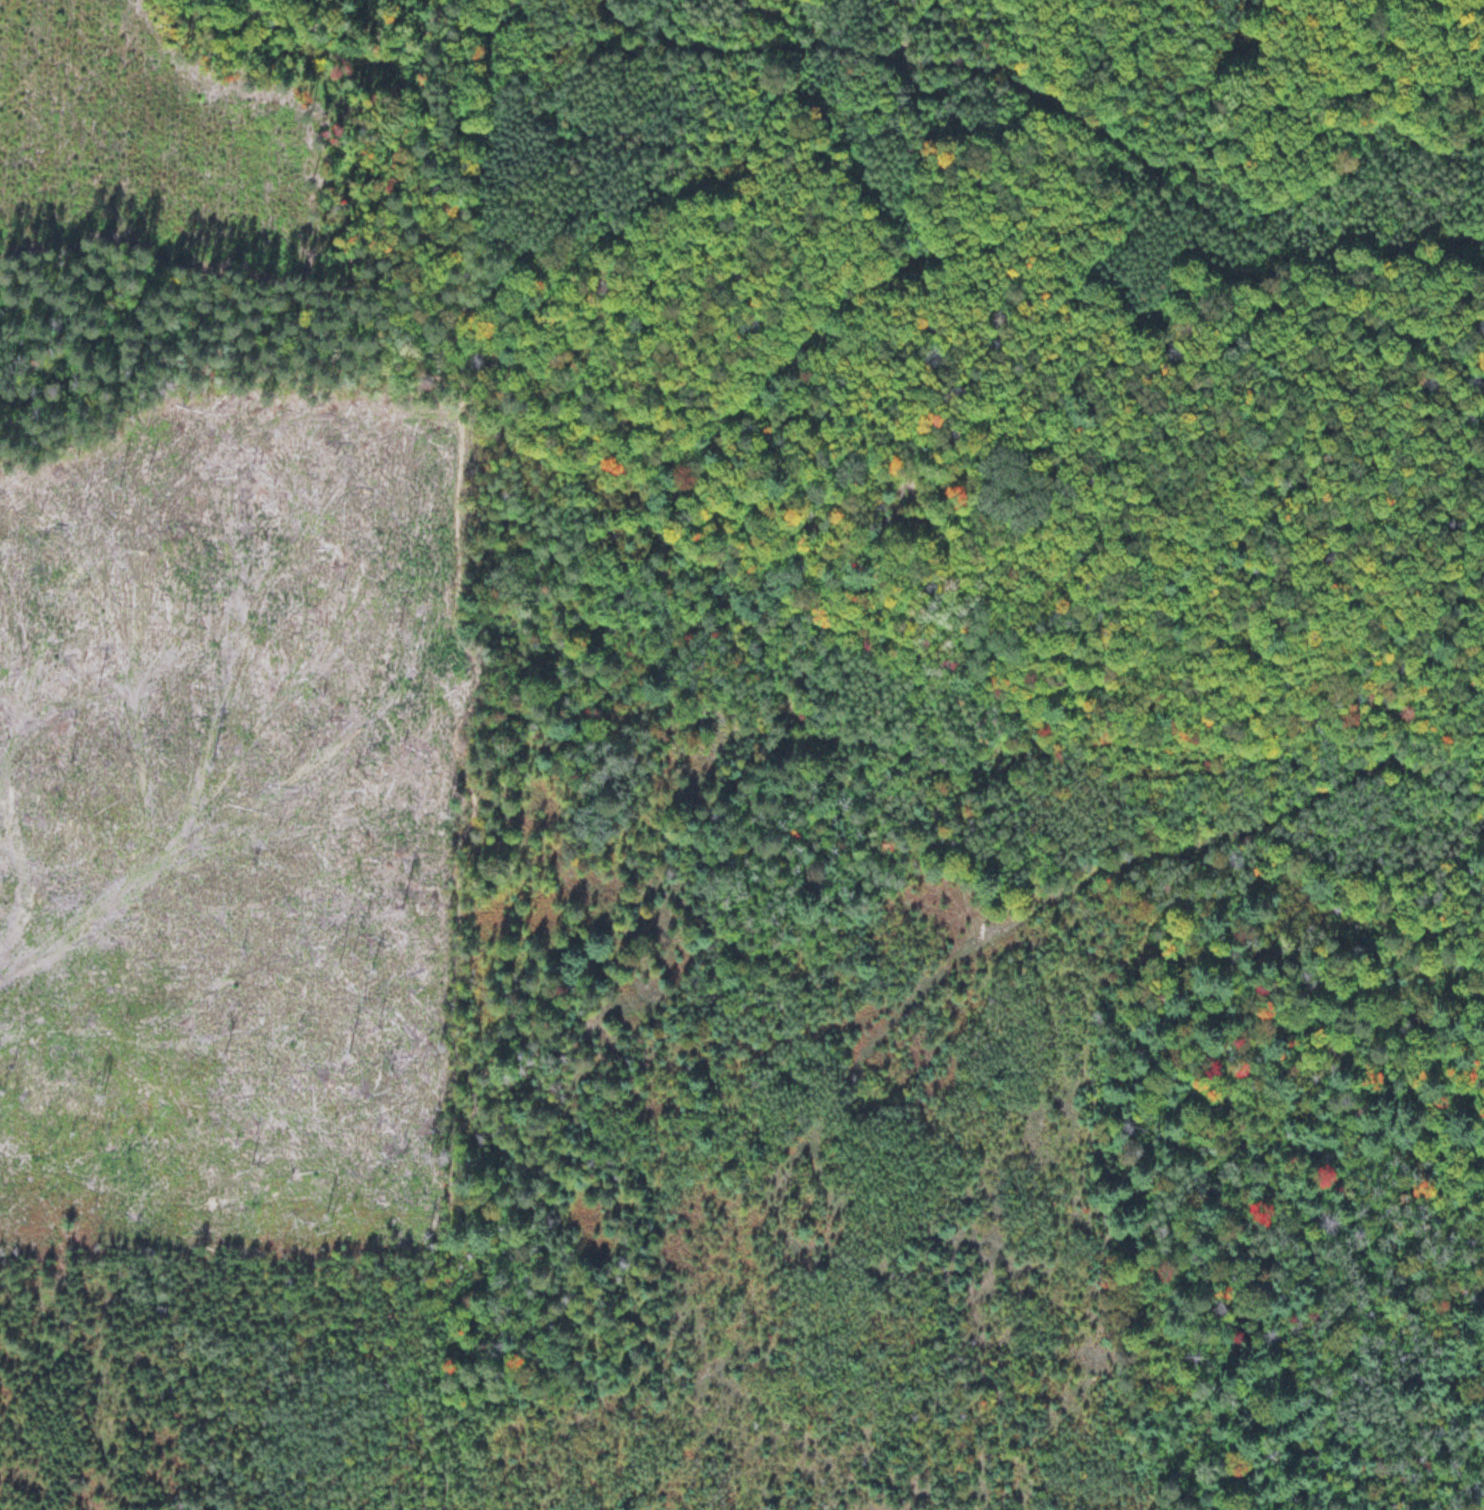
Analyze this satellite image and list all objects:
road: (460, 758)

